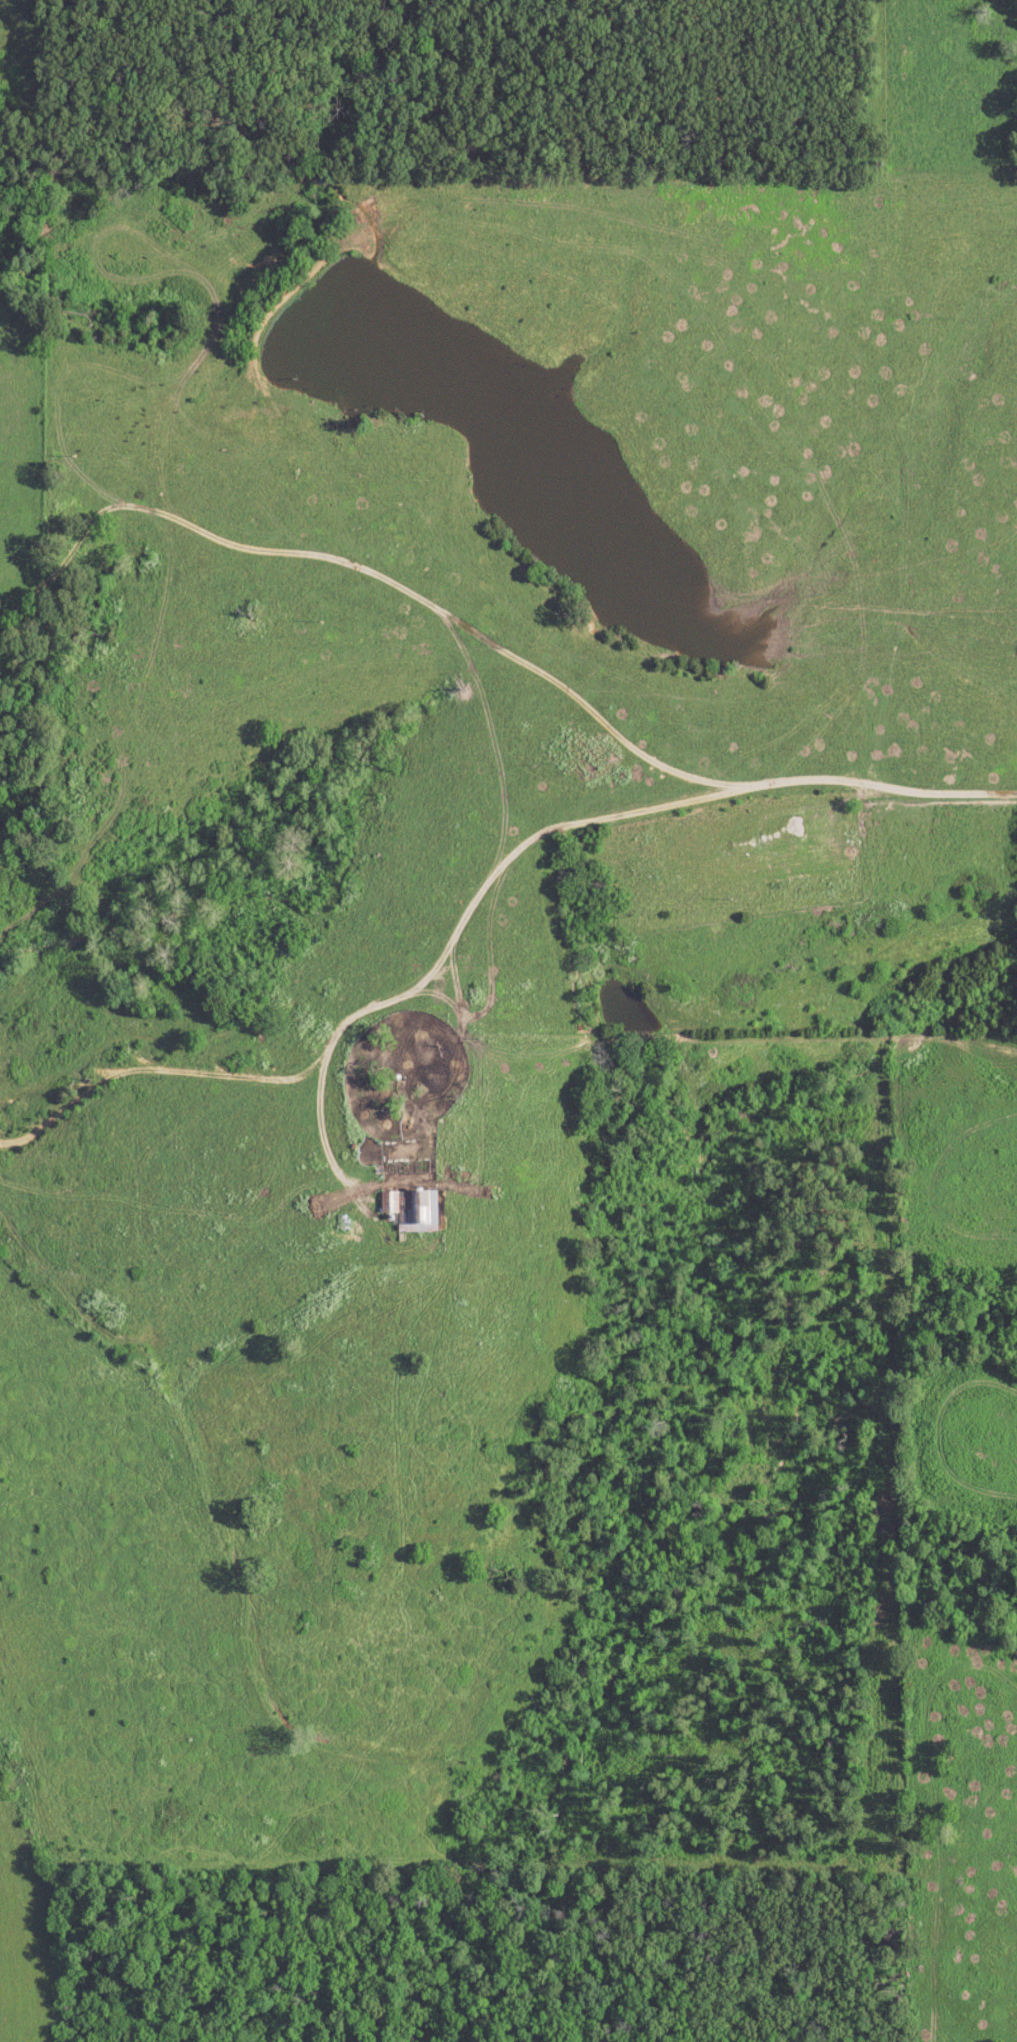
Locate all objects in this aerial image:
road: (378, 577)
road: (477, 902)
road: (328, 1121)
building: (411, 1210)

